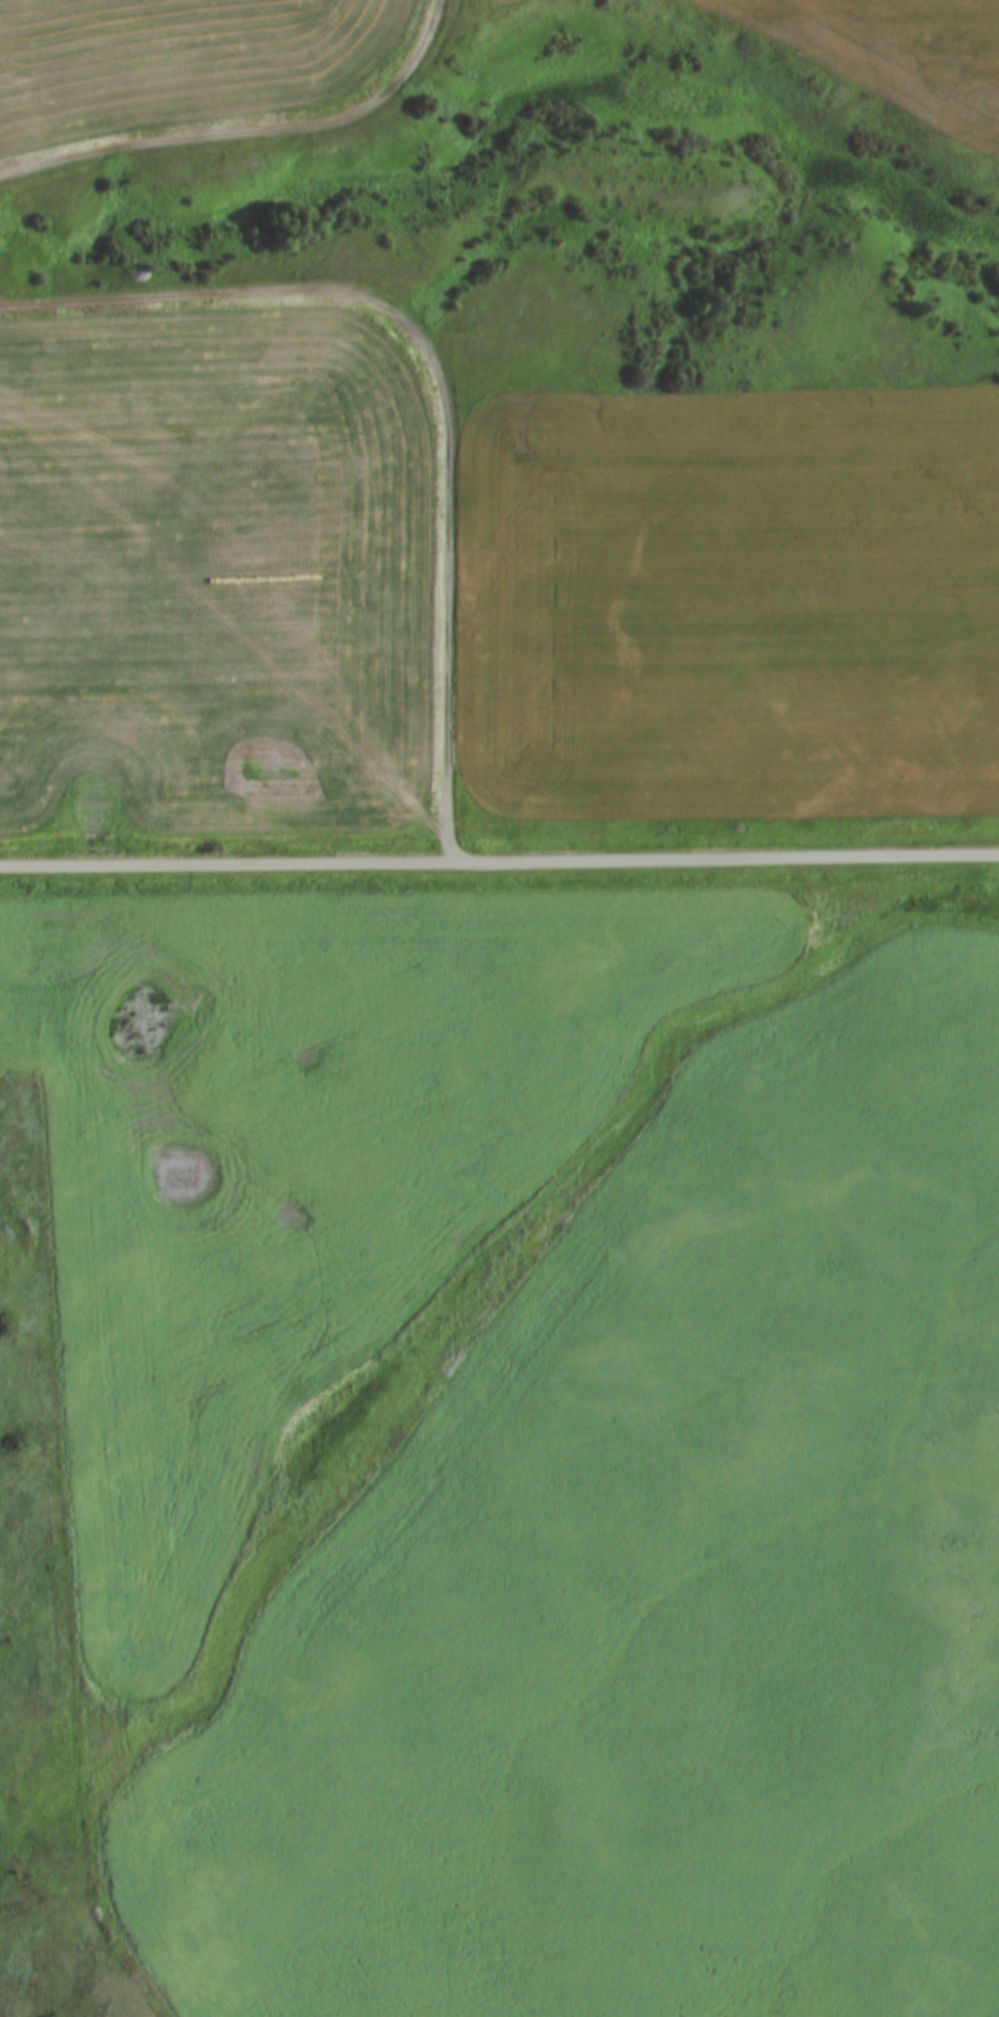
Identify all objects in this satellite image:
road: (248, 130)
road: (437, 379)
road: (499, 859)

